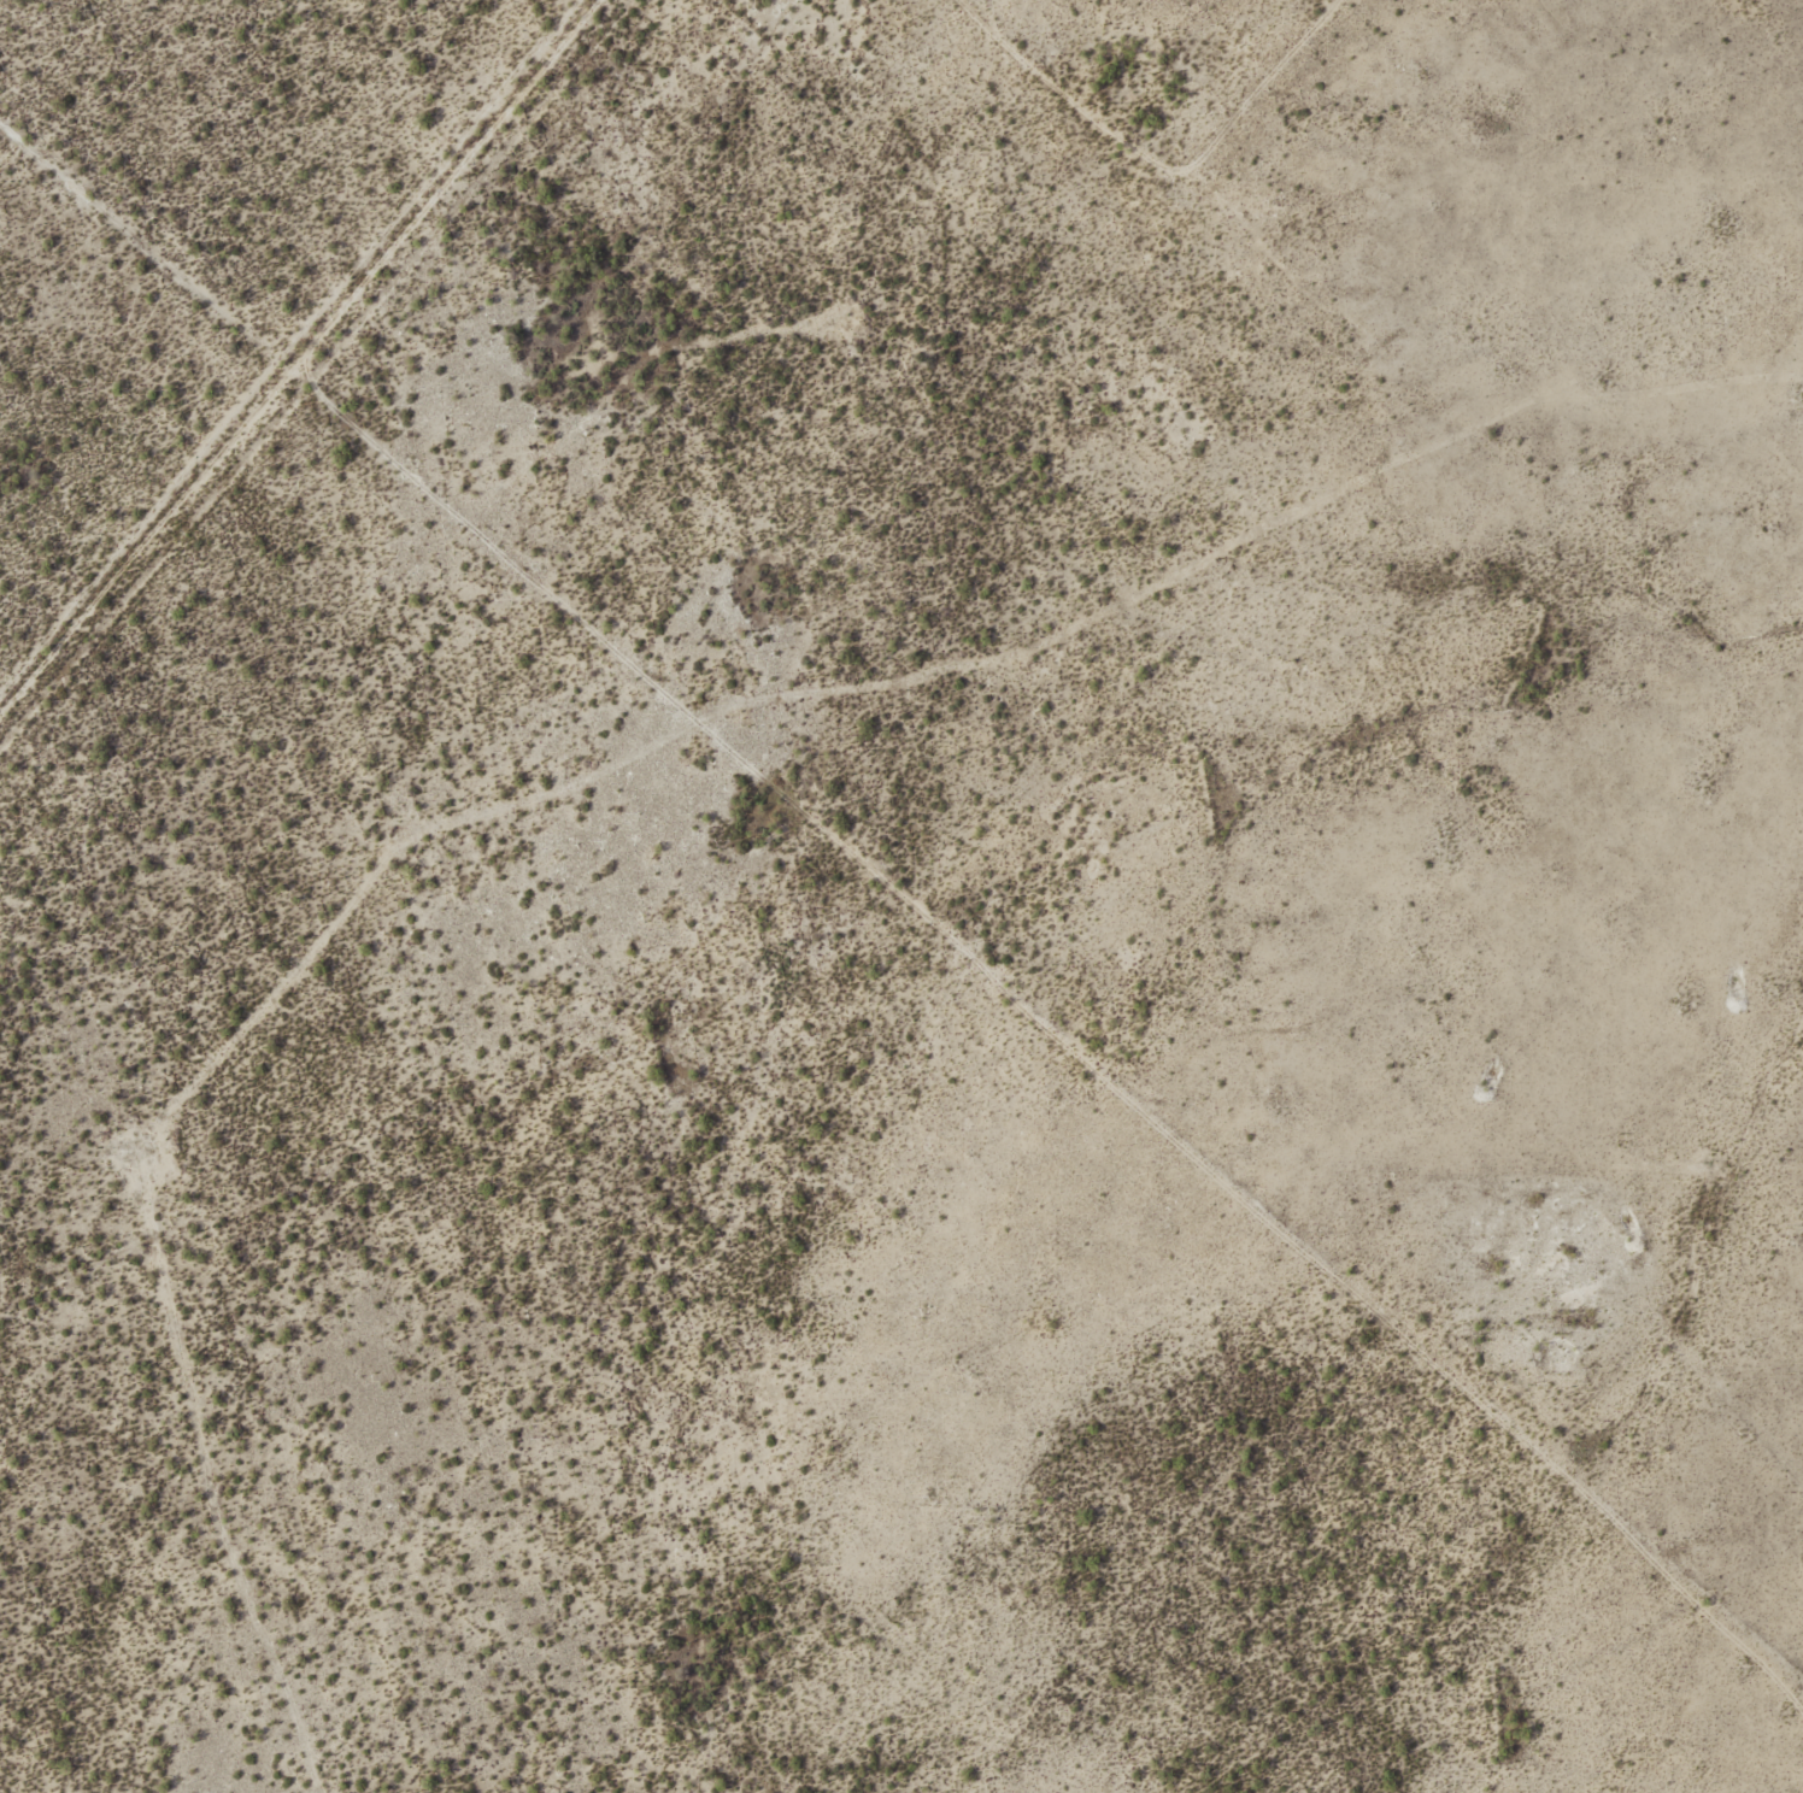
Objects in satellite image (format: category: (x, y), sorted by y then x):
road: (1722, 1389)

